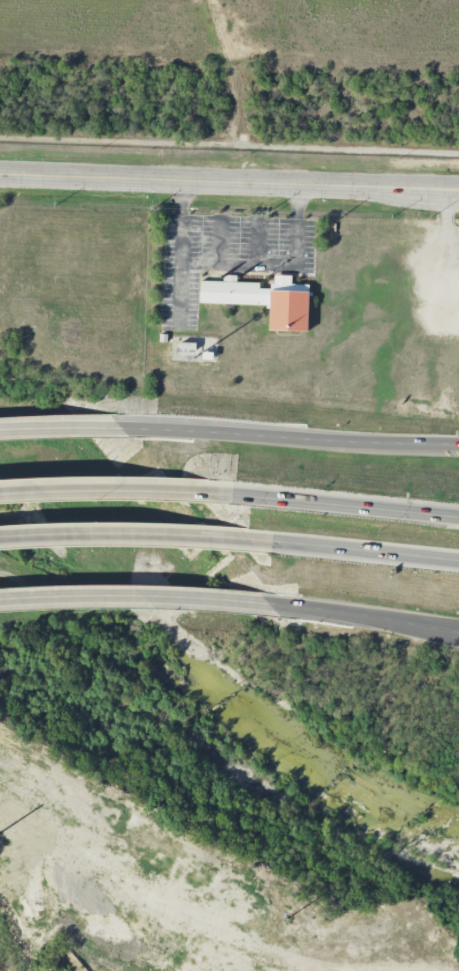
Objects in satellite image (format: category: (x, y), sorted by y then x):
road: (232, 69)
road: (229, 142)
road: (229, 181)
road: (182, 198)
road: (296, 202)
road: (450, 214)
road: (453, 237)
road: (220, 242)
road: (256, 243)
road: (260, 265)
road: (180, 271)
road: (445, 278)
building: (265, 300)
building: (164, 338)
building: (189, 346)
road: (60, 428)
road: (290, 437)
road: (118, 492)
road: (348, 508)
road: (138, 536)
road: (368, 553)
road: (136, 598)
road: (365, 618)
power tower: (286, 918)

